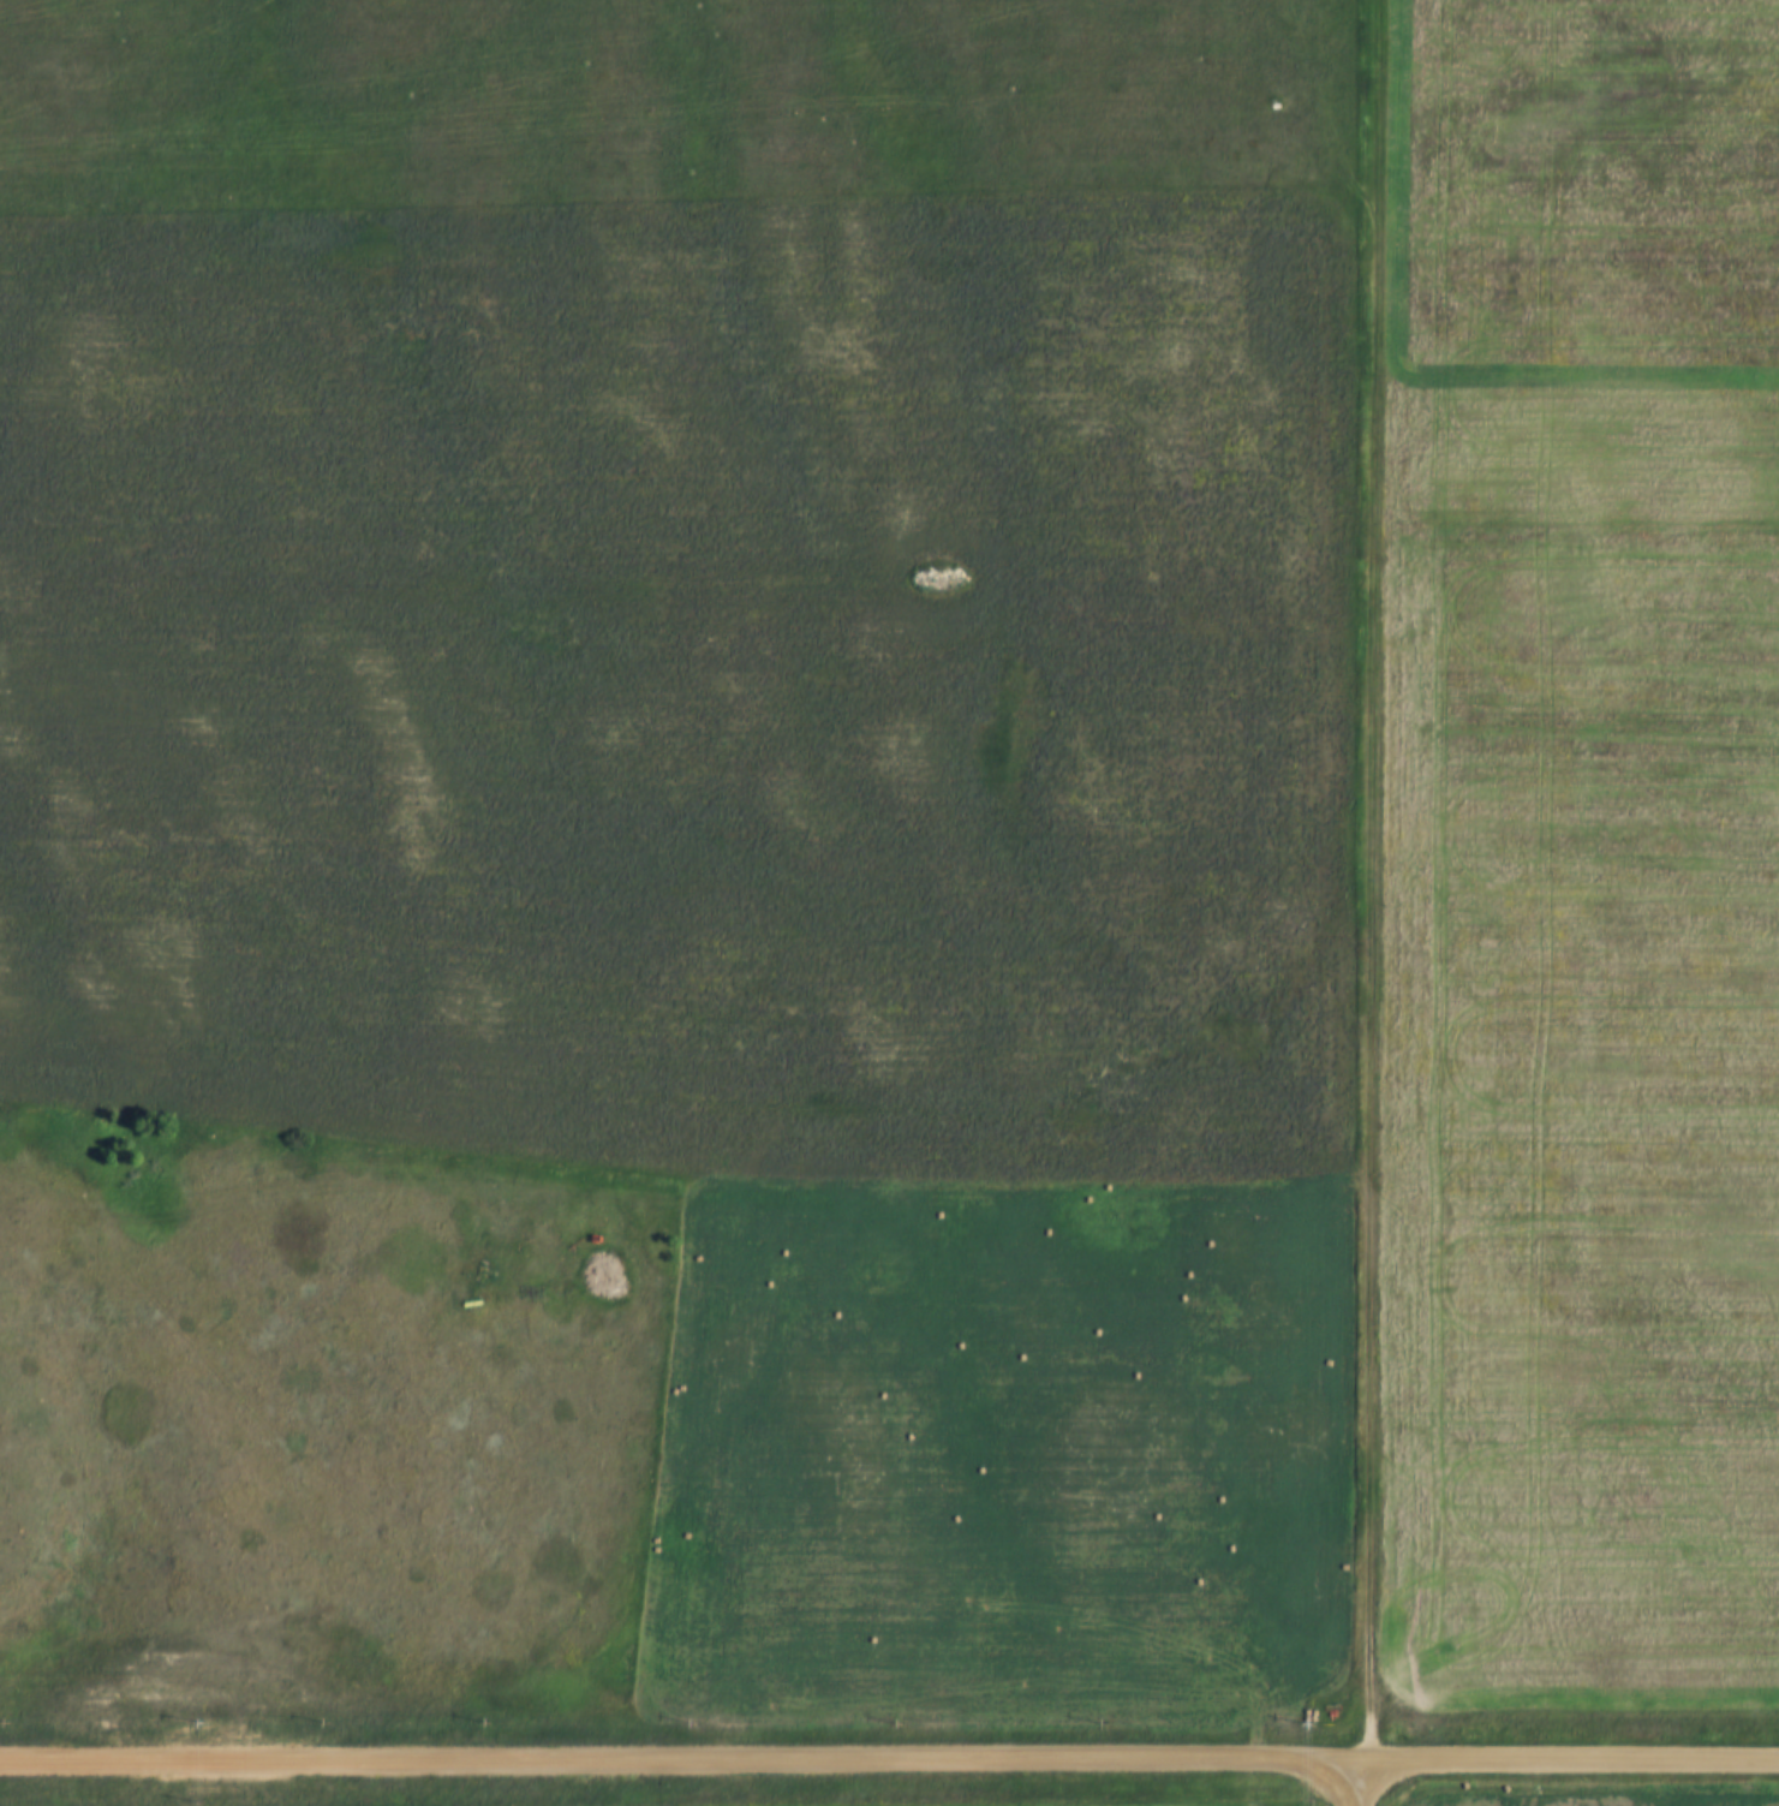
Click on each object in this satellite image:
road: (889, 1769)
road: (1354, 1787)

